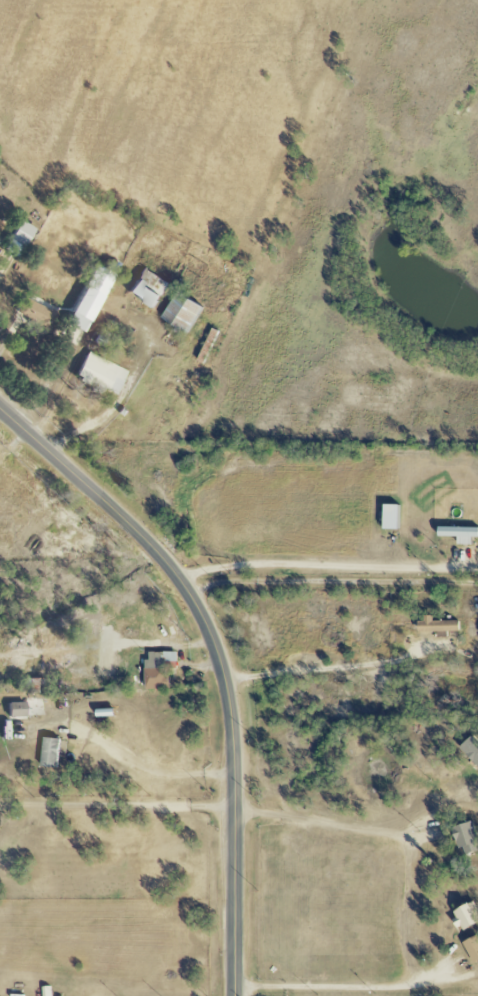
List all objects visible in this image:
building: (21, 239)
road: (2, 266)
building: (152, 288)
building: (93, 298)
building: (186, 311)
building: (36, 312)
building: (103, 373)
road: (118, 399)
road: (61, 401)
building: (457, 533)
road: (327, 565)
road: (333, 580)
building: (434, 625)
road: (221, 658)
building: (155, 669)
road: (331, 669)
building: (13, 709)
building: (470, 750)
building: (47, 752)
road: (158, 772)
road: (119, 805)
road: (368, 829)
building: (465, 838)
road: (402, 911)
building: (462, 916)
building: (471, 948)
road: (358, 986)

